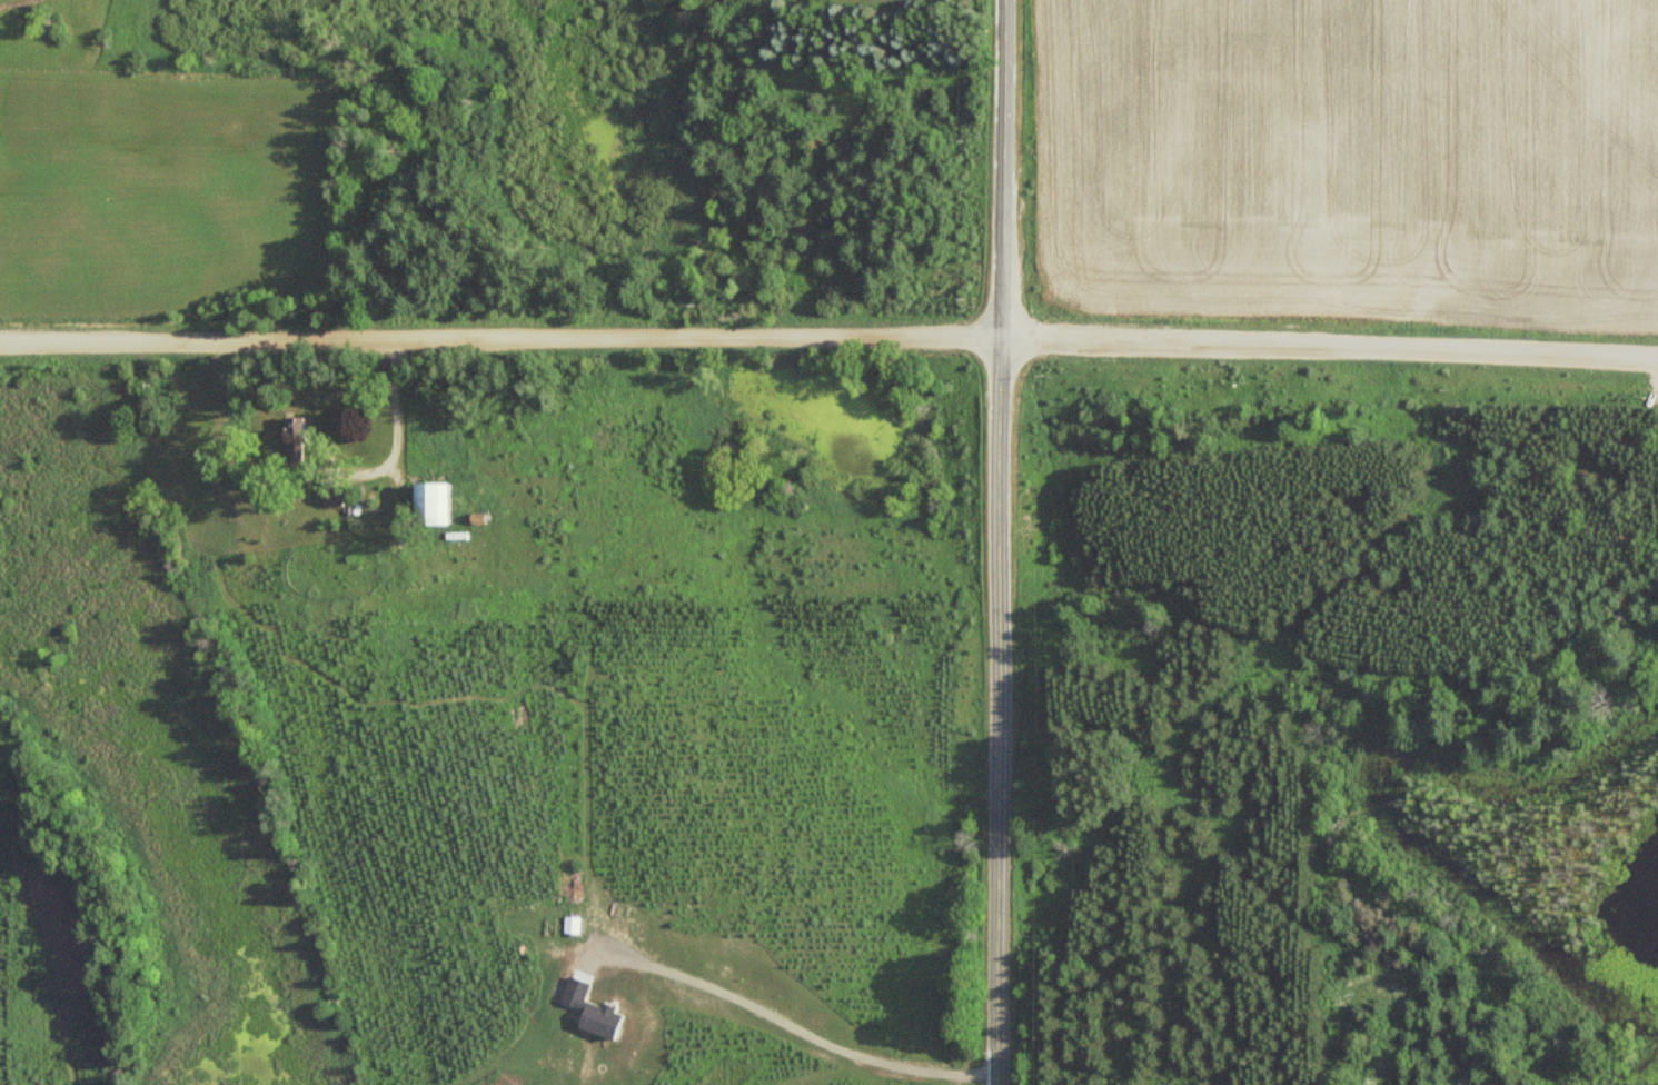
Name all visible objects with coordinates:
road: (828, 336)
building: (294, 440)
building: (335, 495)
building: (431, 502)
road: (1000, 542)

